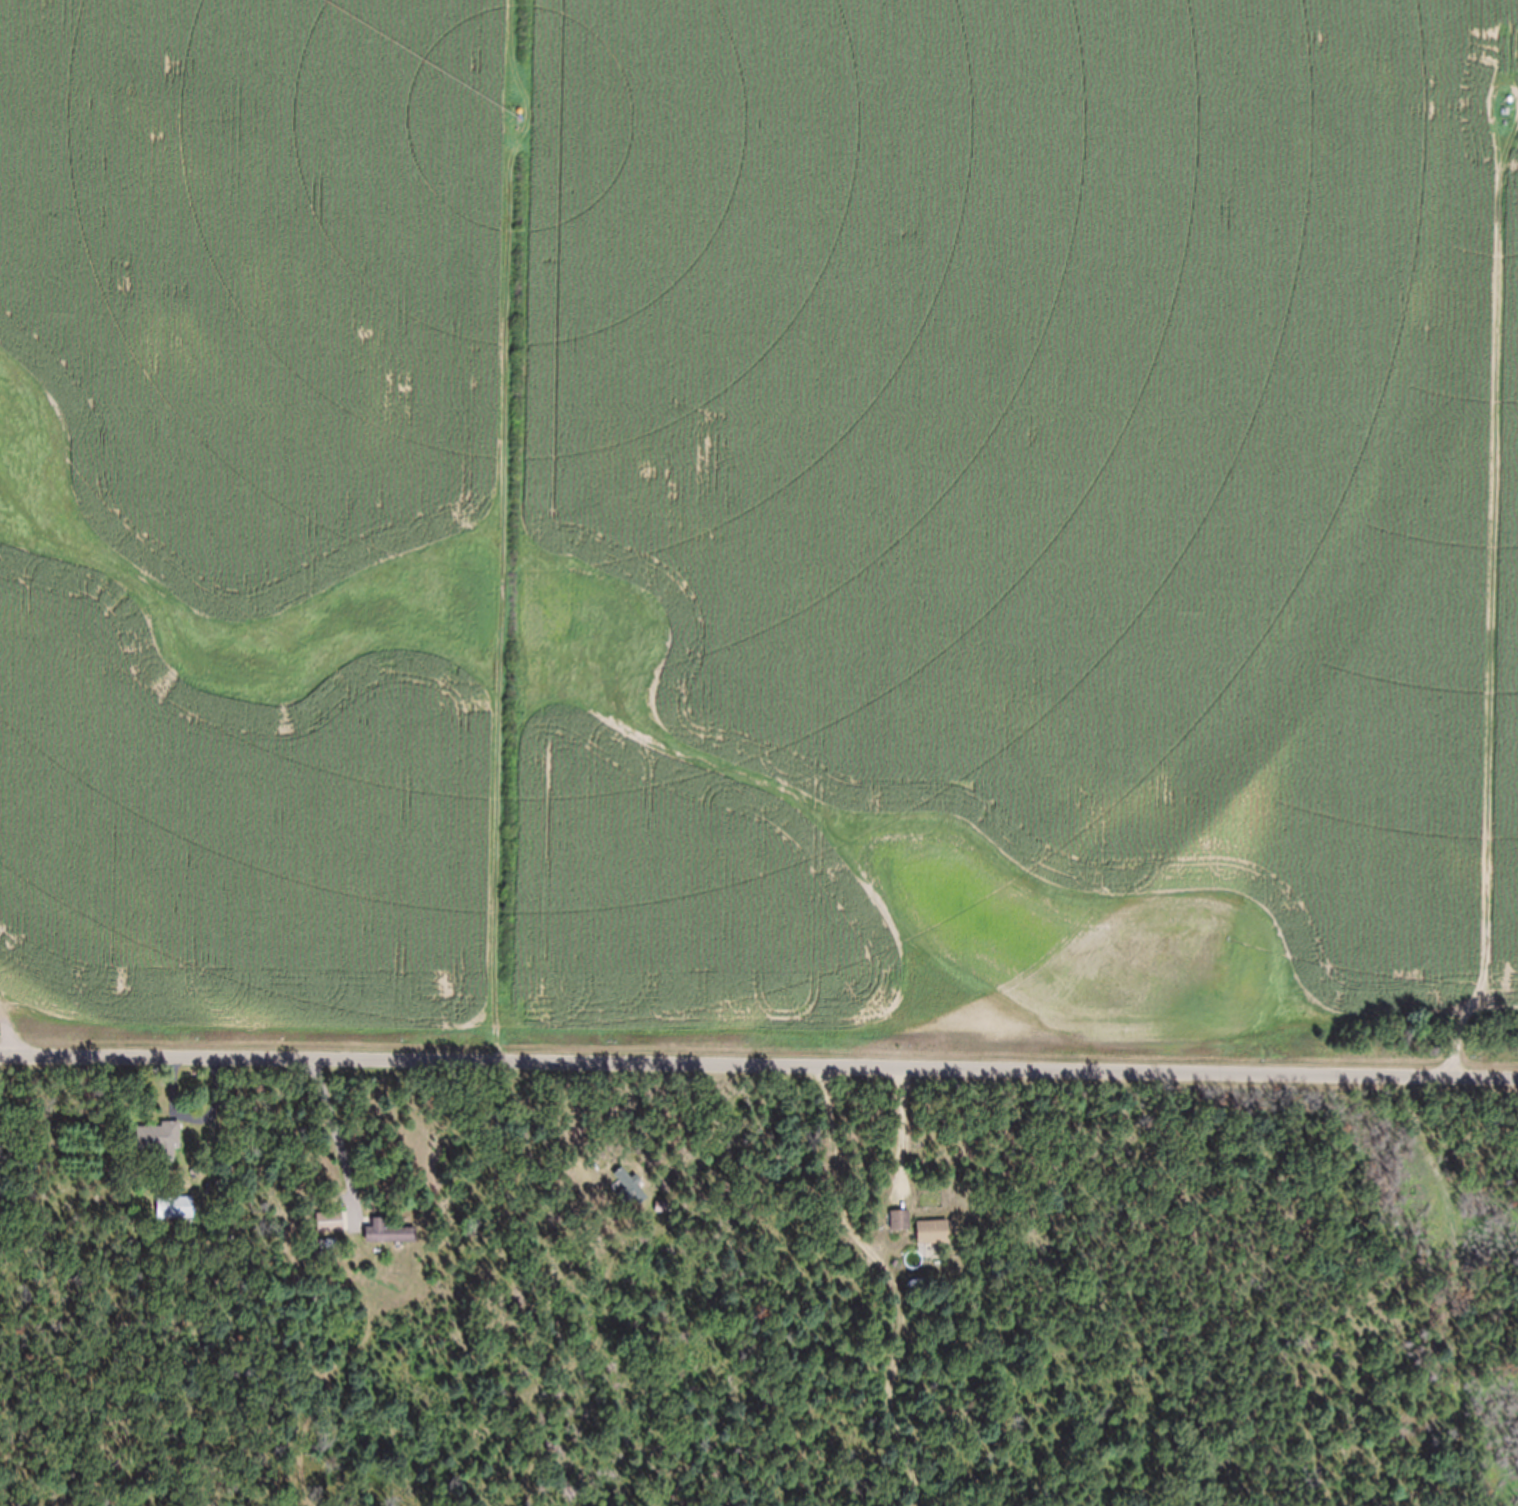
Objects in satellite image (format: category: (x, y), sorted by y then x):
road: (759, 1068)
road: (335, 1139)
building: (161, 1151)
building: (628, 1193)
building: (178, 1219)
building: (901, 1231)
building: (331, 1233)
building: (934, 1243)
building: (391, 1244)

